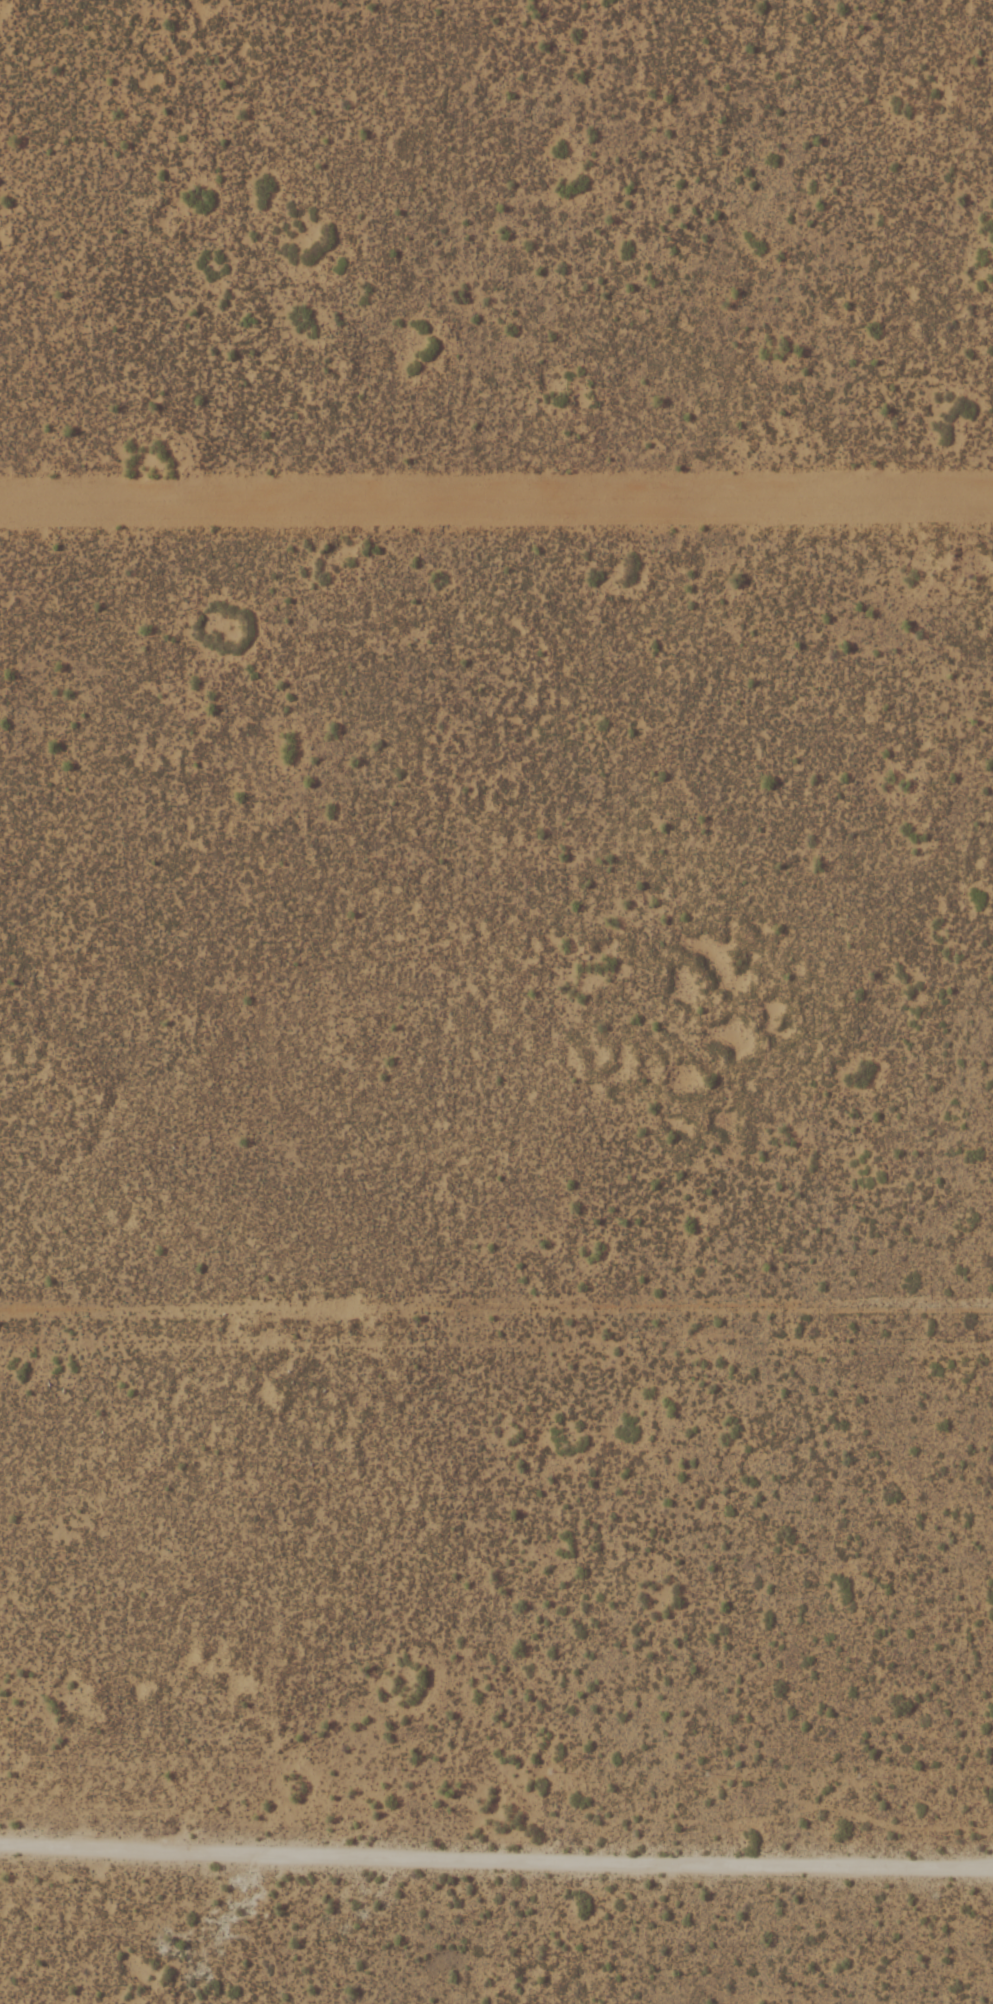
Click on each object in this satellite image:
road: (496, 1856)

